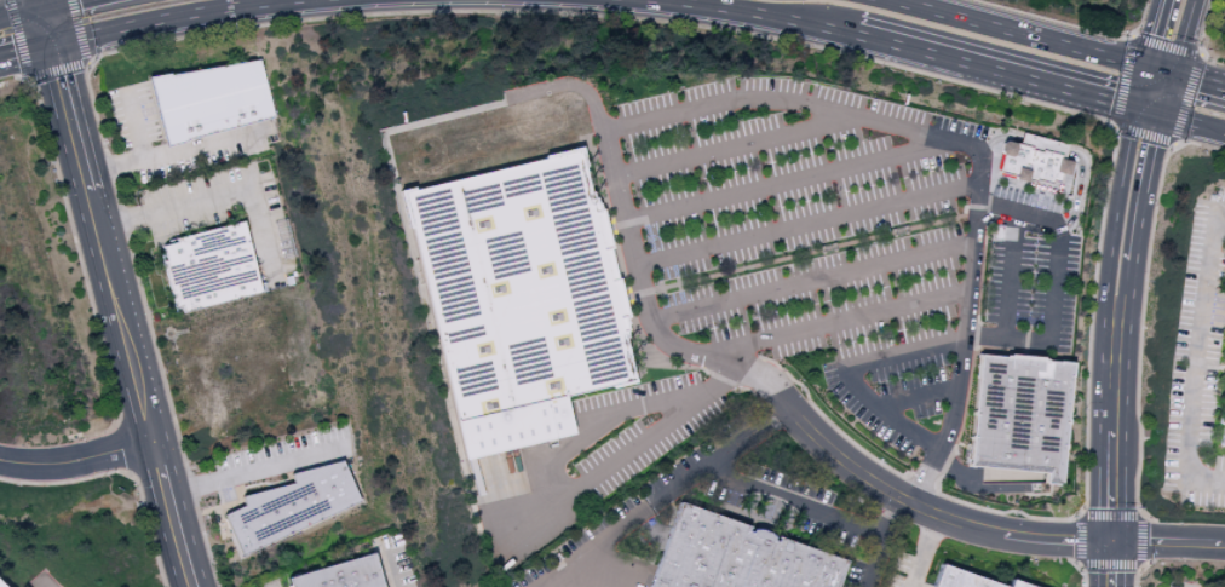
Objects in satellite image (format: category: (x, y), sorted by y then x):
road: (42, 4)
road: (63, 4)
traffic signals: (44, 8)
road: (22, 13)
road: (179, 18)
road: (48, 27)
road: (1013, 31)
road: (1154, 33)
road: (1179, 35)
traffic signals: (53, 45)
road: (885, 45)
road: (27, 51)
traffic signals: (1145, 65)
road: (1157, 68)
traffic signals: (1169, 71)
road: (1197, 79)
road: (1140, 86)
road: (1164, 92)
building: (211, 99)
traffic signals: (1135, 108)
road: (1148, 110)
traffic signals: (1160, 114)
road: (71, 117)
road: (1192, 122)
road: (133, 127)
road: (994, 139)
road: (721, 144)
building: (1036, 144)
road: (1036, 145)
road: (970, 146)
road: (169, 152)
building: (1024, 163)
road: (781, 180)
road: (213, 200)
road: (1112, 217)
road: (1137, 220)
road: (1064, 225)
road: (806, 226)
road: (627, 238)
building: (214, 265)
parking lot: (1033, 265)
road: (810, 280)
road: (1012, 283)
building: (1223, 283)
building: (517, 299)
road: (121, 316)
road: (836, 327)
road: (911, 349)
road: (1197, 363)
road: (921, 392)
building: (1218, 412)
building: (1019, 415)
road: (736, 422)
road: (1110, 456)
road: (77, 461)
road: (253, 470)
road: (485, 499)
building: (297, 503)
road: (922, 510)
road: (171, 514)
road: (818, 516)
road: (637, 524)
road: (1166, 543)
road: (920, 551)
building: (744, 556)
road: (384, 566)
building: (350, 574)
building: (974, 579)
building: (1, 585)
road: (42, 585)
building: (1218, 586)

